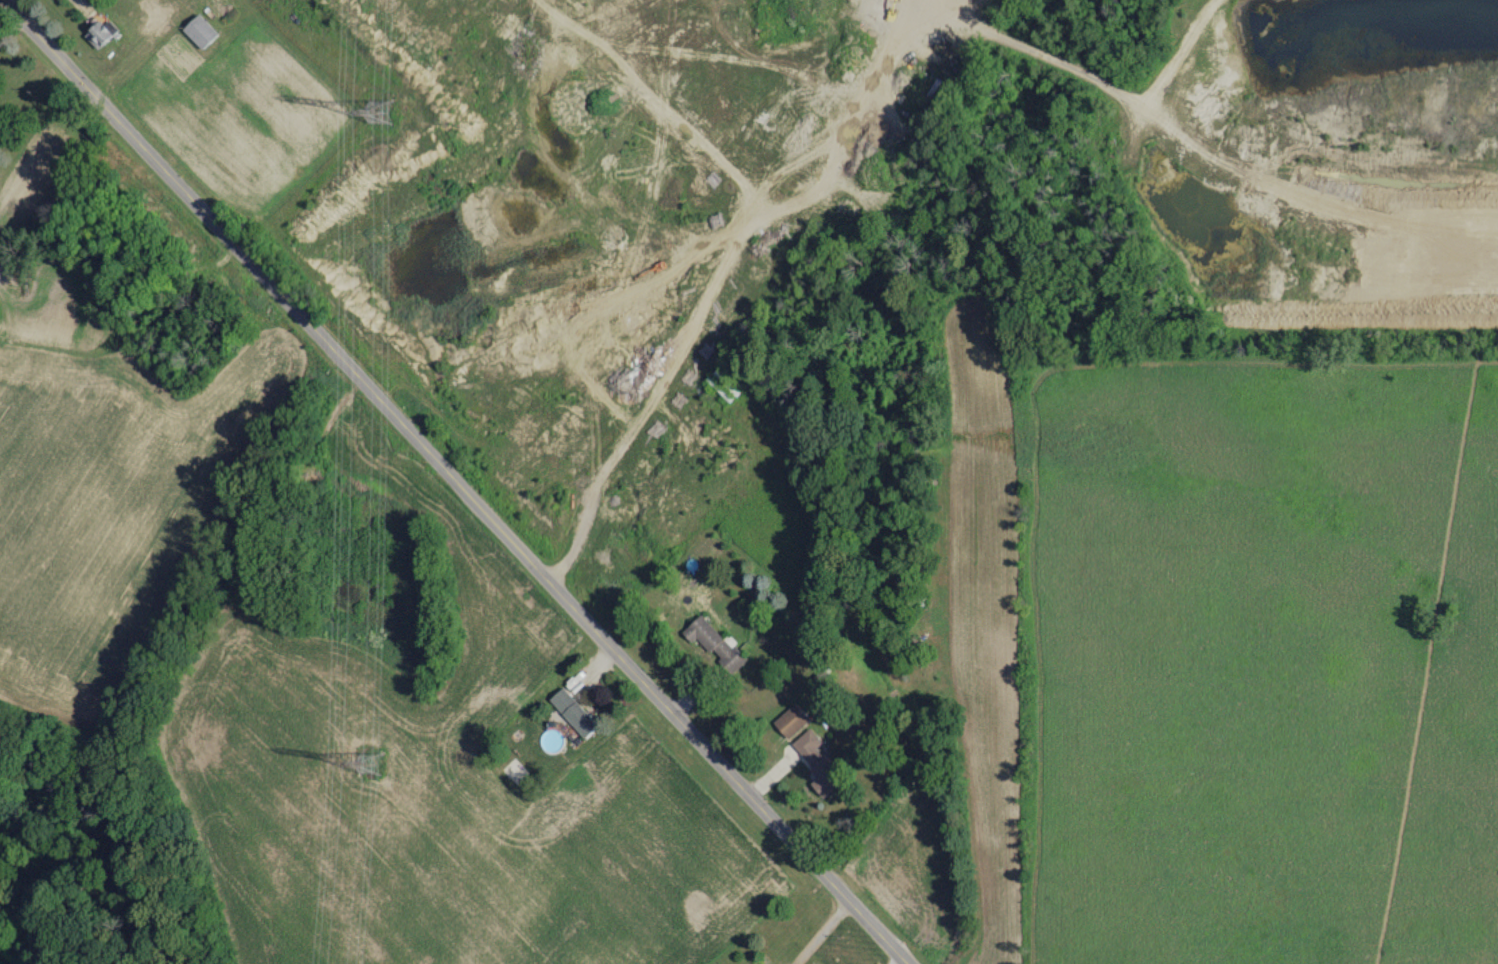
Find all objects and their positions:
road: (11, 26)
building: (201, 30)
building: (100, 34)
power tower: (383, 108)
road: (606, 461)
road: (462, 481)
building: (712, 642)
road: (1450, 706)
building: (570, 712)
building: (788, 720)
power tower: (368, 758)
building: (814, 762)
road: (825, 931)
road: (900, 958)

